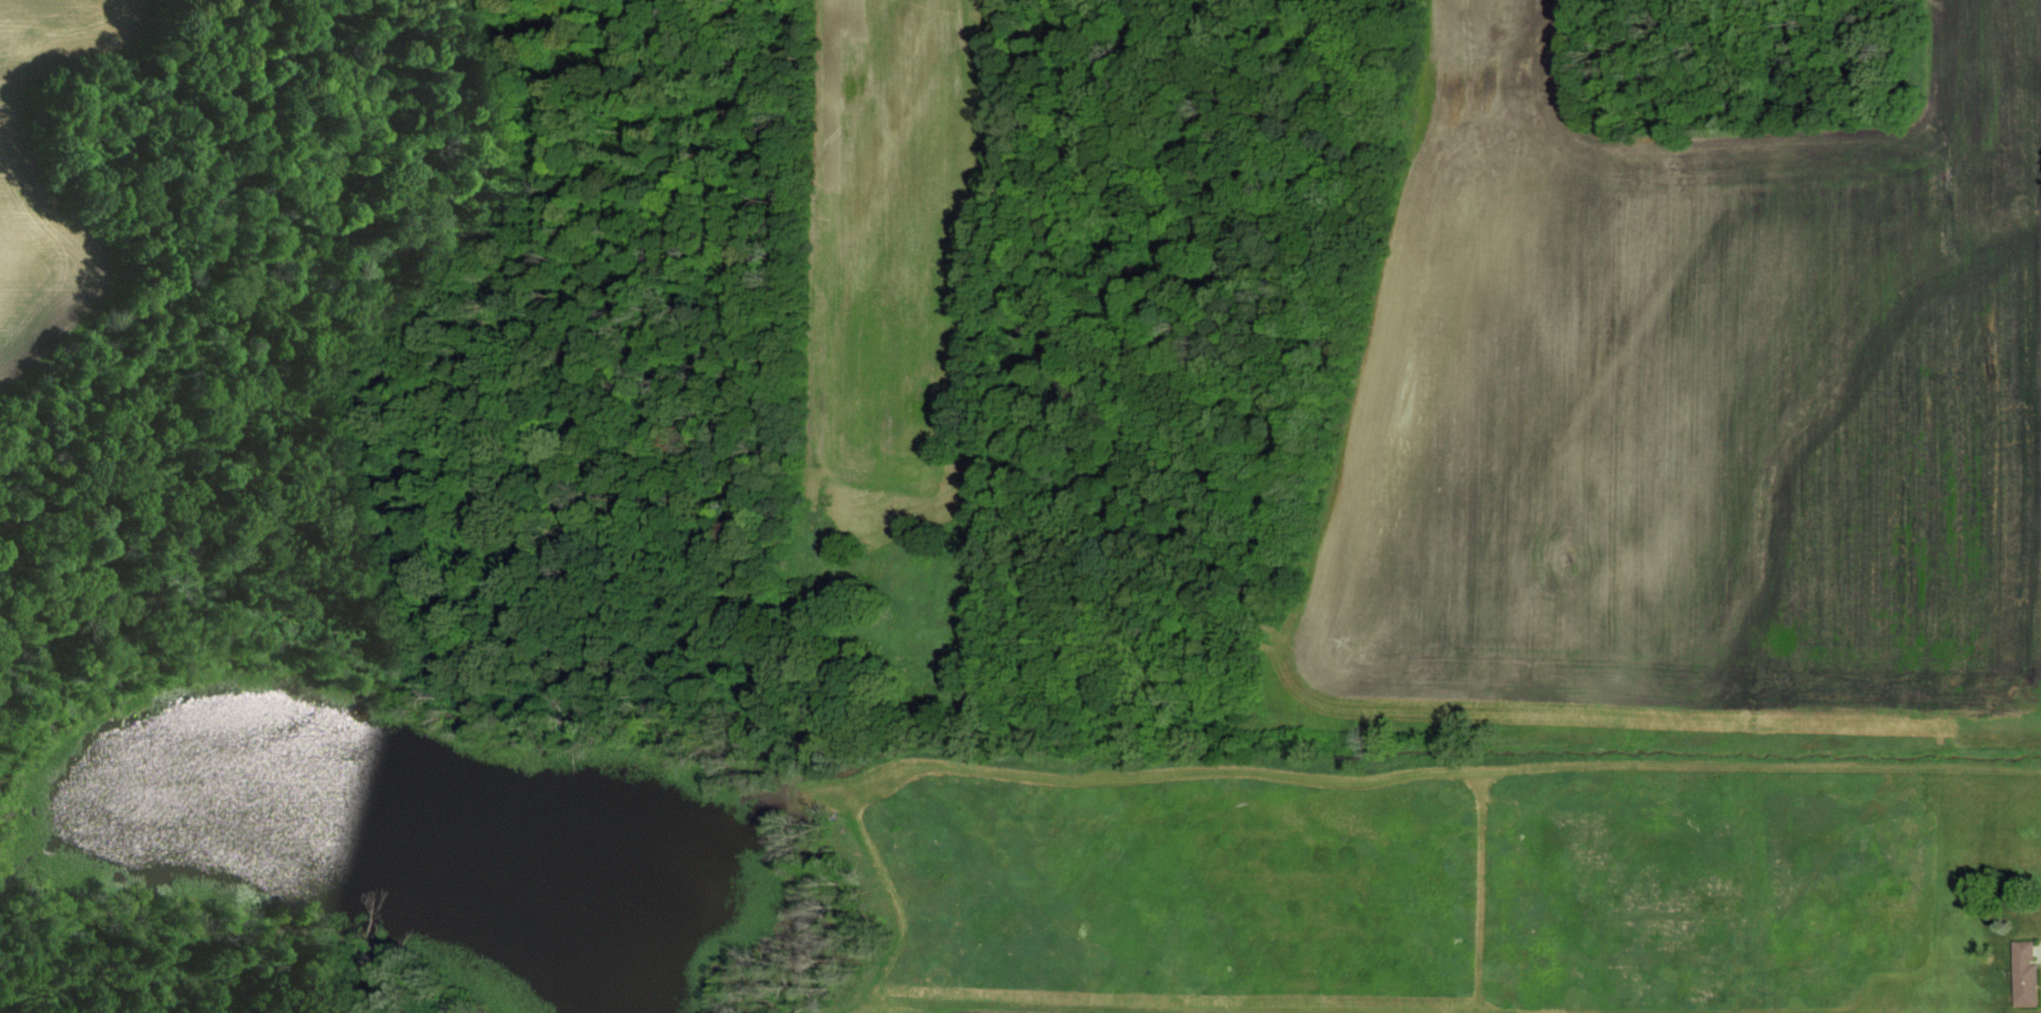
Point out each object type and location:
building: (2027, 974)

